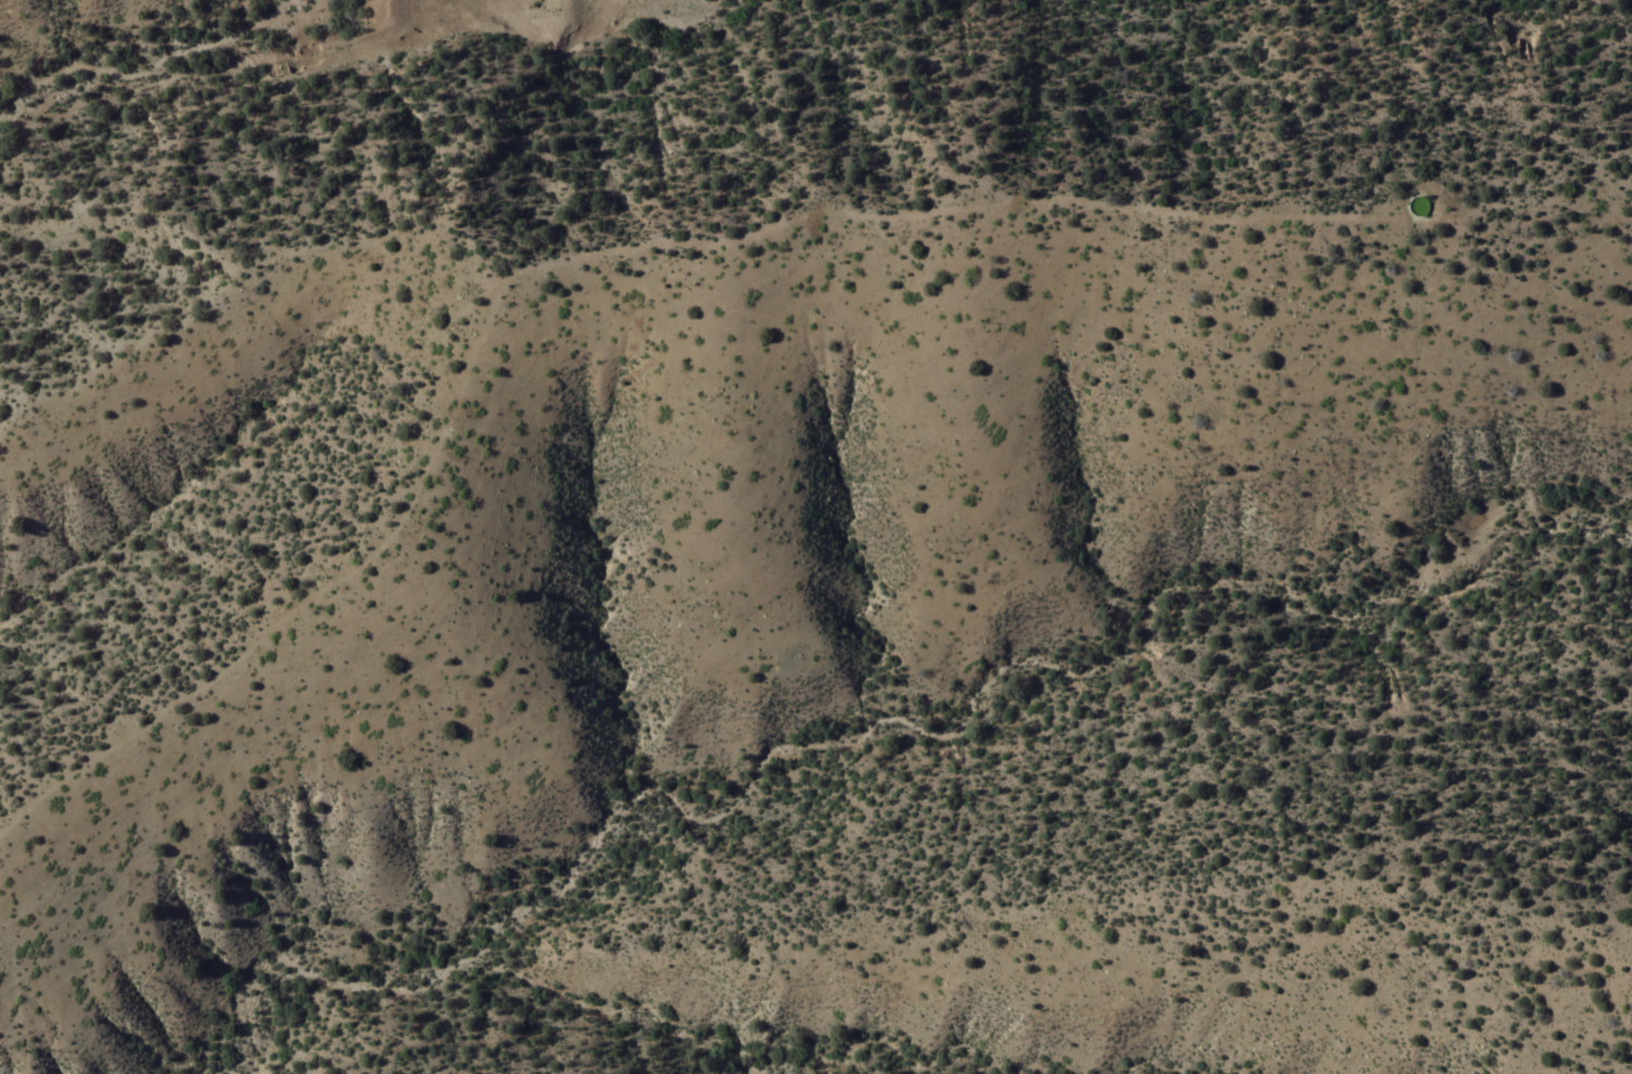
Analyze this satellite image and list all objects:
building: (1413, 203)
storage tank: (1413, 203)

